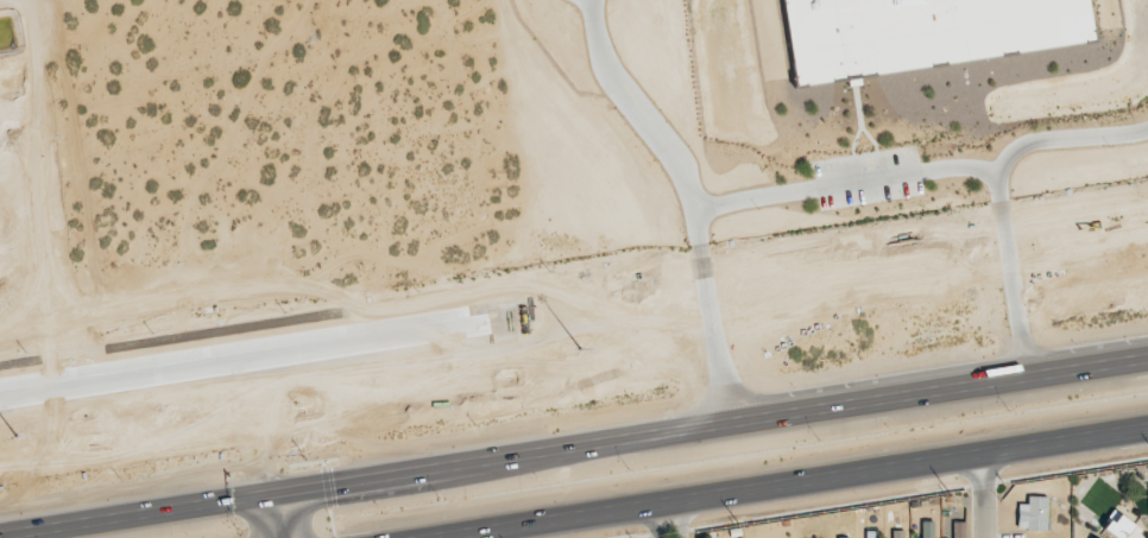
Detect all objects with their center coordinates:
building: (916, 33)
road: (658, 133)
road: (1033, 143)
road: (841, 184)
road: (701, 284)
road: (127, 373)
road: (810, 433)
road: (1099, 433)
road: (285, 471)
road: (745, 488)
road: (984, 495)
building: (1033, 513)
road: (685, 514)
road: (651, 521)
building: (927, 528)
building: (1121, 528)
building: (898, 532)
building: (871, 534)
building: (839, 537)

